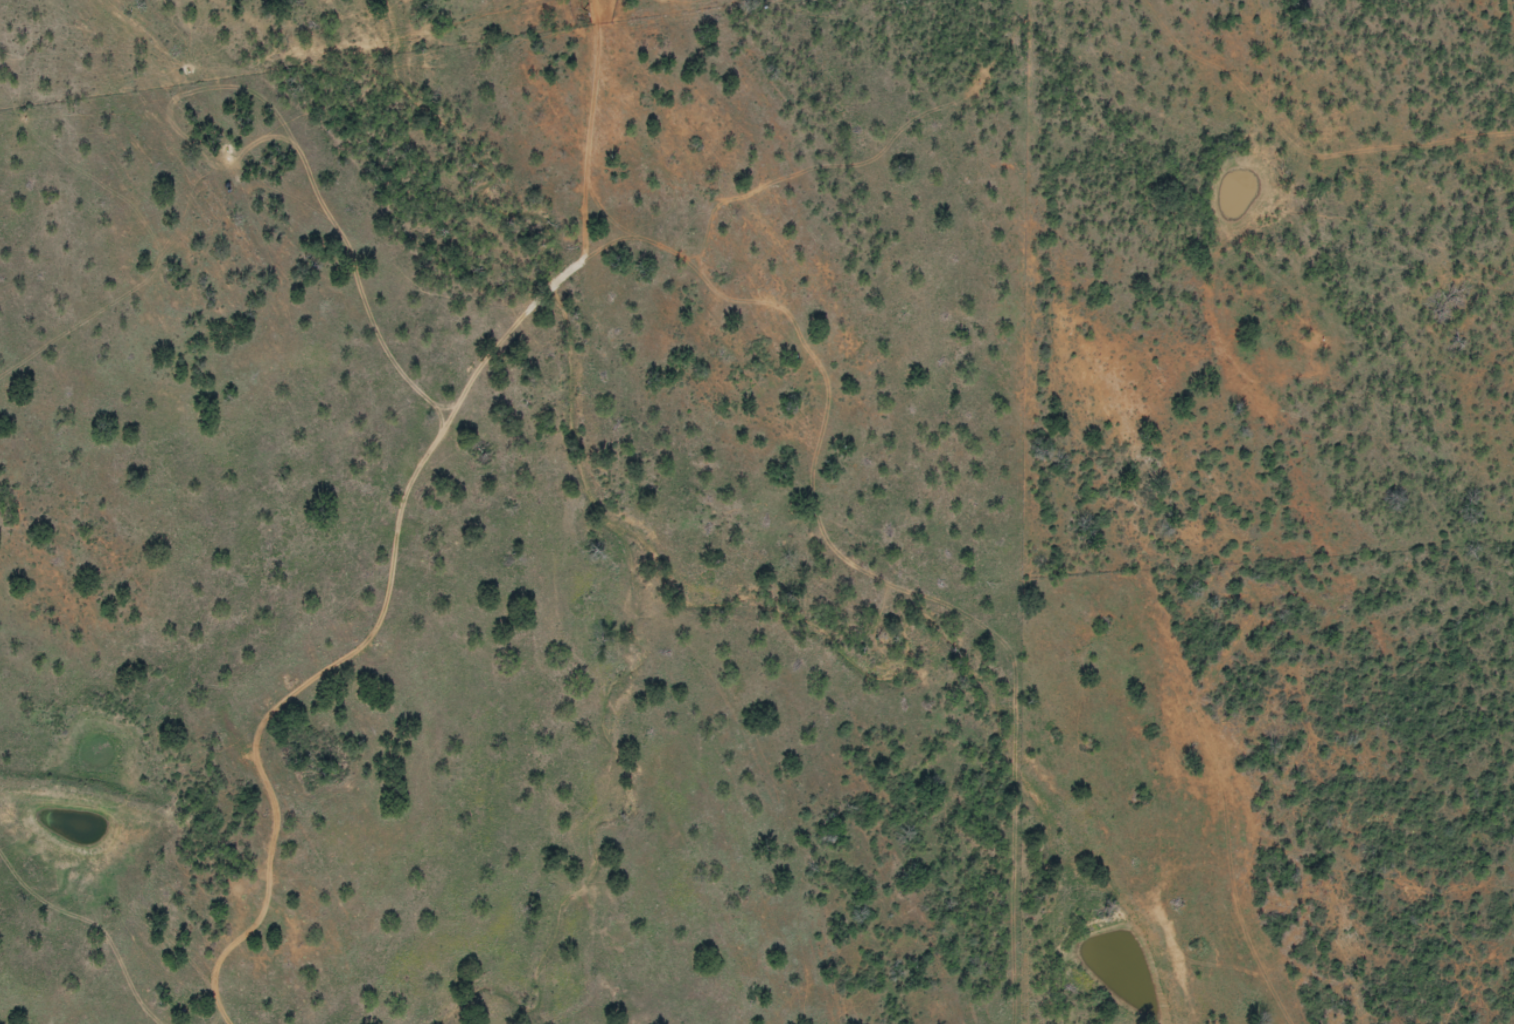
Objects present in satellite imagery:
road: (426, 527)

